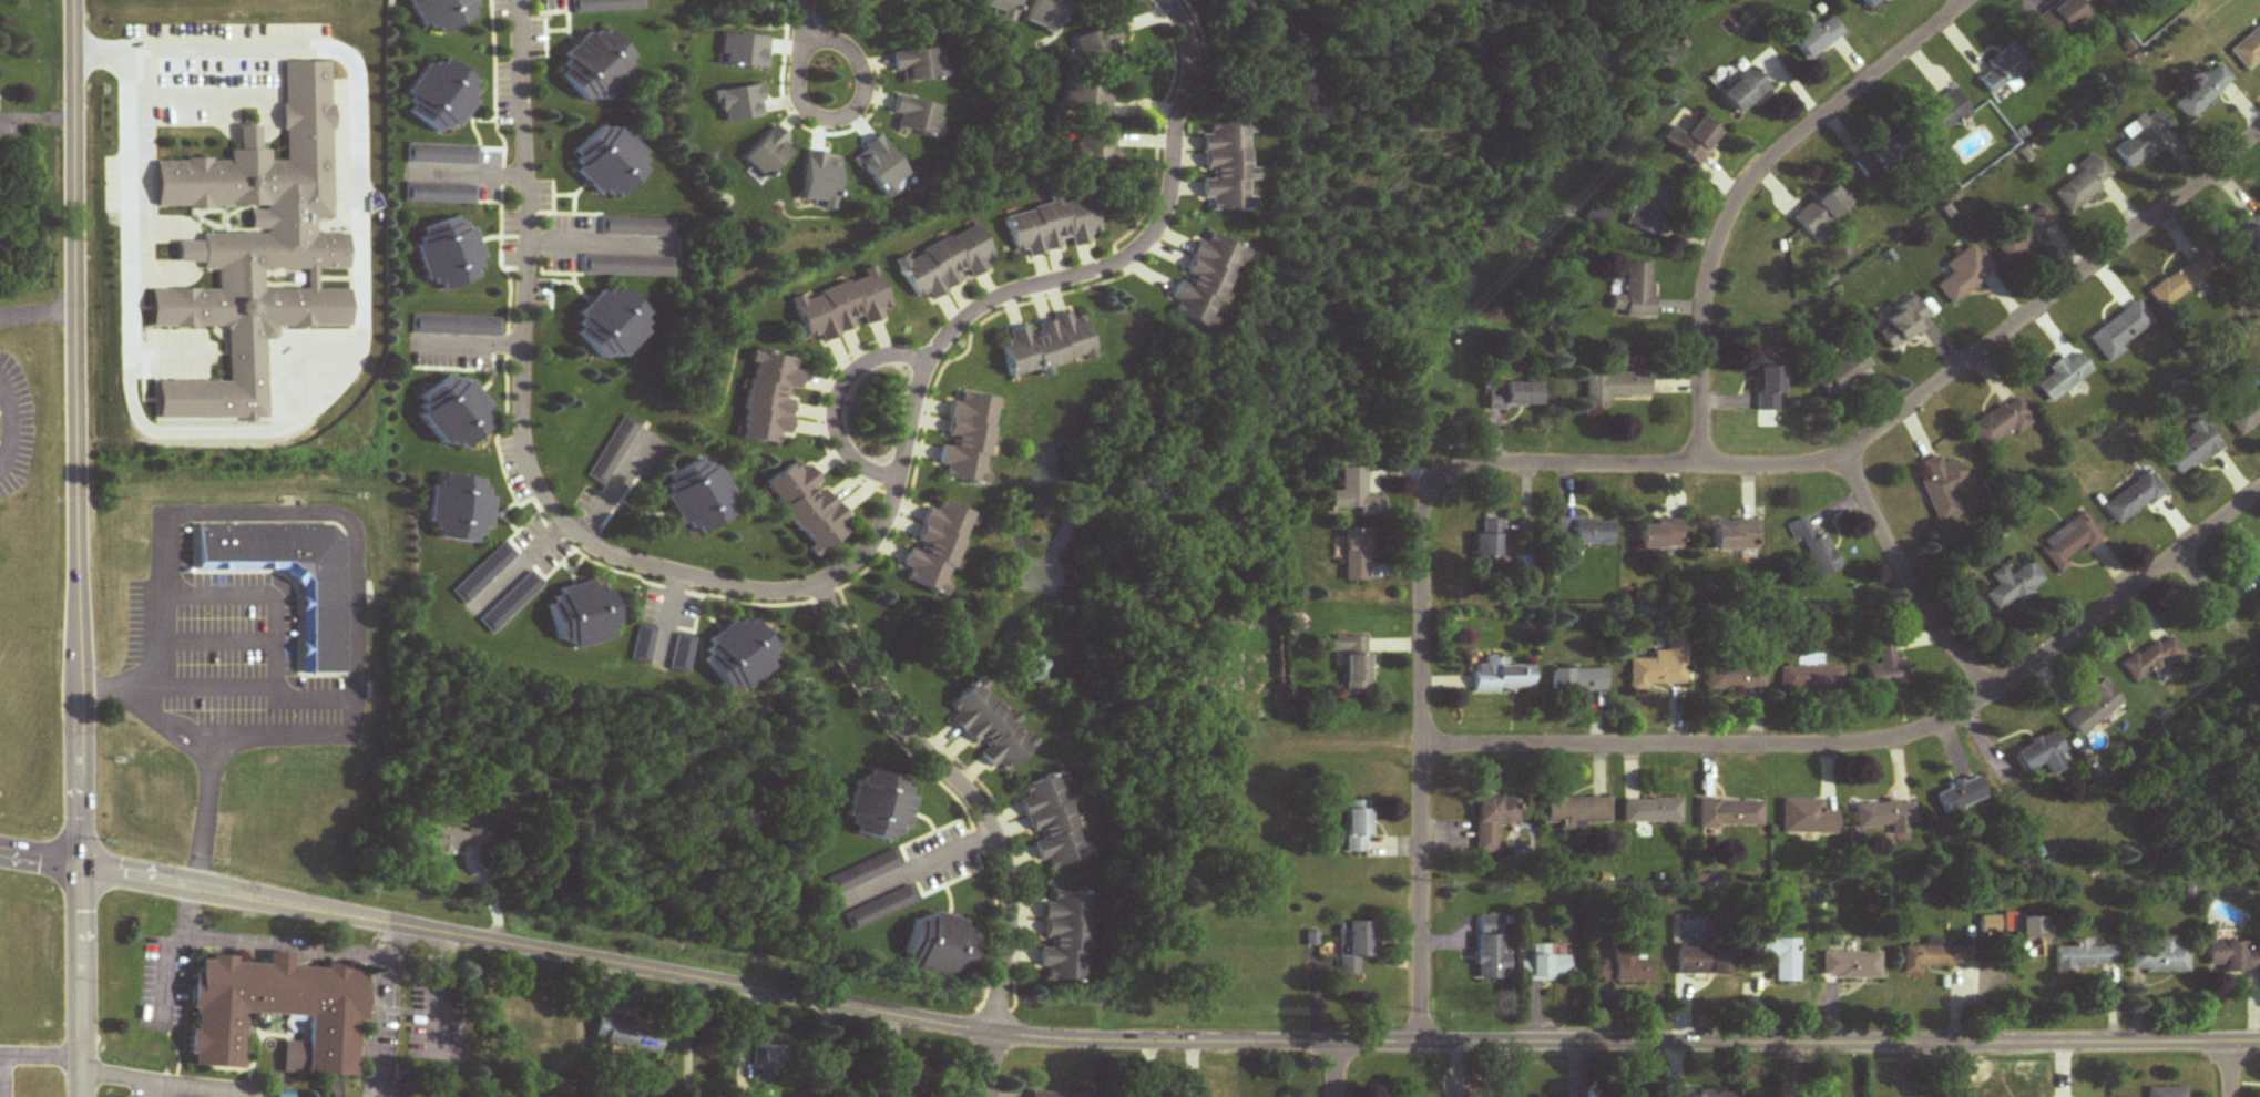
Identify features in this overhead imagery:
building: (1870, 3)
building: (605, 7)
building: (1003, 9)
building: (442, 12)
building: (1045, 14)
building: (2062, 18)
road: (800, 19)
building: (1817, 37)
building: (1096, 47)
building: (2247, 48)
building: (918, 64)
building: (596, 66)
building: (2002, 71)
road: (198, 91)
building: (1742, 91)
building: (2202, 92)
building: (442, 96)
building: (1088, 99)
road: (853, 110)
building: (1944, 113)
building: (917, 117)
building: (2143, 137)
building: (1693, 140)
building: (1094, 148)
building: (769, 153)
building: (429, 155)
building: (1883, 156)
building: (611, 162)
building: (1226, 166)
road: (1745, 183)
building: (2083, 184)
building: (427, 194)
building: (1654, 209)
building: (1821, 211)
road: (161, 218)
building: (1052, 225)
building: (2023, 233)
road: (594, 240)
building: (257, 249)
building: (450, 254)
building: (945, 263)
road: (158, 268)
building: (1964, 277)
building: (1205, 280)
building: (2180, 280)
road: (1029, 289)
building: (1636, 291)
building: (842, 306)
road: (37, 315)
building: (612, 322)
building: (1902, 322)
building: (2118, 331)
road: (475, 338)
building: (1046, 345)
building: (1845, 368)
road: (337, 370)
building: (2063, 377)
building: (1768, 385)
building: (1614, 387)
building: (1512, 396)
building: (771, 398)
road: (841, 399)
road: (528, 404)
building: (457, 412)
building: (2244, 414)
road: (9, 423)
building: (2000, 423)
road: (1873, 434)
building: (967, 438)
building: (2191, 449)
road: (612, 483)
building: (1942, 488)
building: (1358, 493)
building: (702, 496)
building: (2131, 499)
building: (808, 506)
building: (459, 509)
road: (352, 526)
building: (1583, 532)
building: (1660, 534)
building: (1735, 535)
building: (2068, 542)
building: (1489, 543)
building: (937, 546)
road: (76, 548)
building: (1814, 548)
building: (1357, 556)
building: (2257, 565)
road: (1906, 582)
building: (2012, 586)
road: (266, 593)
building: (582, 614)
building: (323, 624)
building: (738, 655)
building: (2152, 659)
building: (1353, 662)
building: (1883, 664)
building: (1660, 667)
building: (1502, 678)
building: (1735, 678)
building: (1578, 680)
building: (1804, 680)
building: (2094, 708)
building: (990, 727)
road: (297, 738)
road: (1881, 742)
road: (203, 745)
building: (2042, 755)
road: (1423, 782)
road: (970, 792)
building: (1959, 799)
building: (878, 807)
building: (1651, 811)
building: (1576, 812)
building: (1730, 814)
building: (1884, 817)
building: (1806, 819)
building: (1052, 821)
building: (1493, 821)
building: (1357, 827)
building: (450, 839)
road: (909, 863)
building: (862, 873)
building: (878, 909)
building: (1988, 924)
road: (286, 936)
building: (1065, 937)
building: (2028, 937)
building: (940, 946)
building: (1352, 946)
building: (1490, 949)
road: (165, 951)
building: (2085, 956)
building: (2232, 956)
building: (1779, 957)
building: (1932, 957)
building: (2159, 958)
building: (1706, 961)
building: (1545, 965)
building: (1850, 965)
building: (1625, 967)
road: (377, 1012)
building: (275, 1013)
building: (528, 1033)
building: (627, 1036)
road: (1122, 1037)
road: (685, 1038)
road: (40, 1060)
road: (985, 1066)
road: (2233, 1067)
building: (766, 1068)
road: (1334, 1069)
road: (1792, 1070)
road: (1952, 1070)
road: (120, 1072)
road: (1, 1078)
building: (2166, 1093)
building: (283, 1094)
building: (1054, 1095)
building: (1706, 1095)

